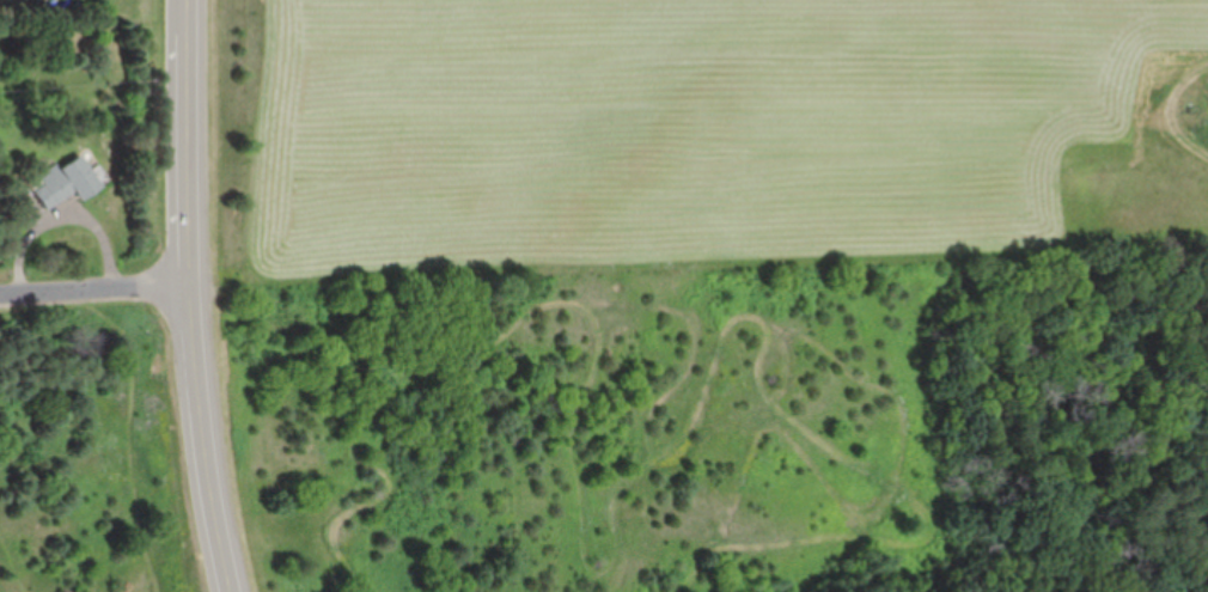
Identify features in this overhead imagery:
building: (75, 177)
road: (99, 295)
road: (199, 297)

